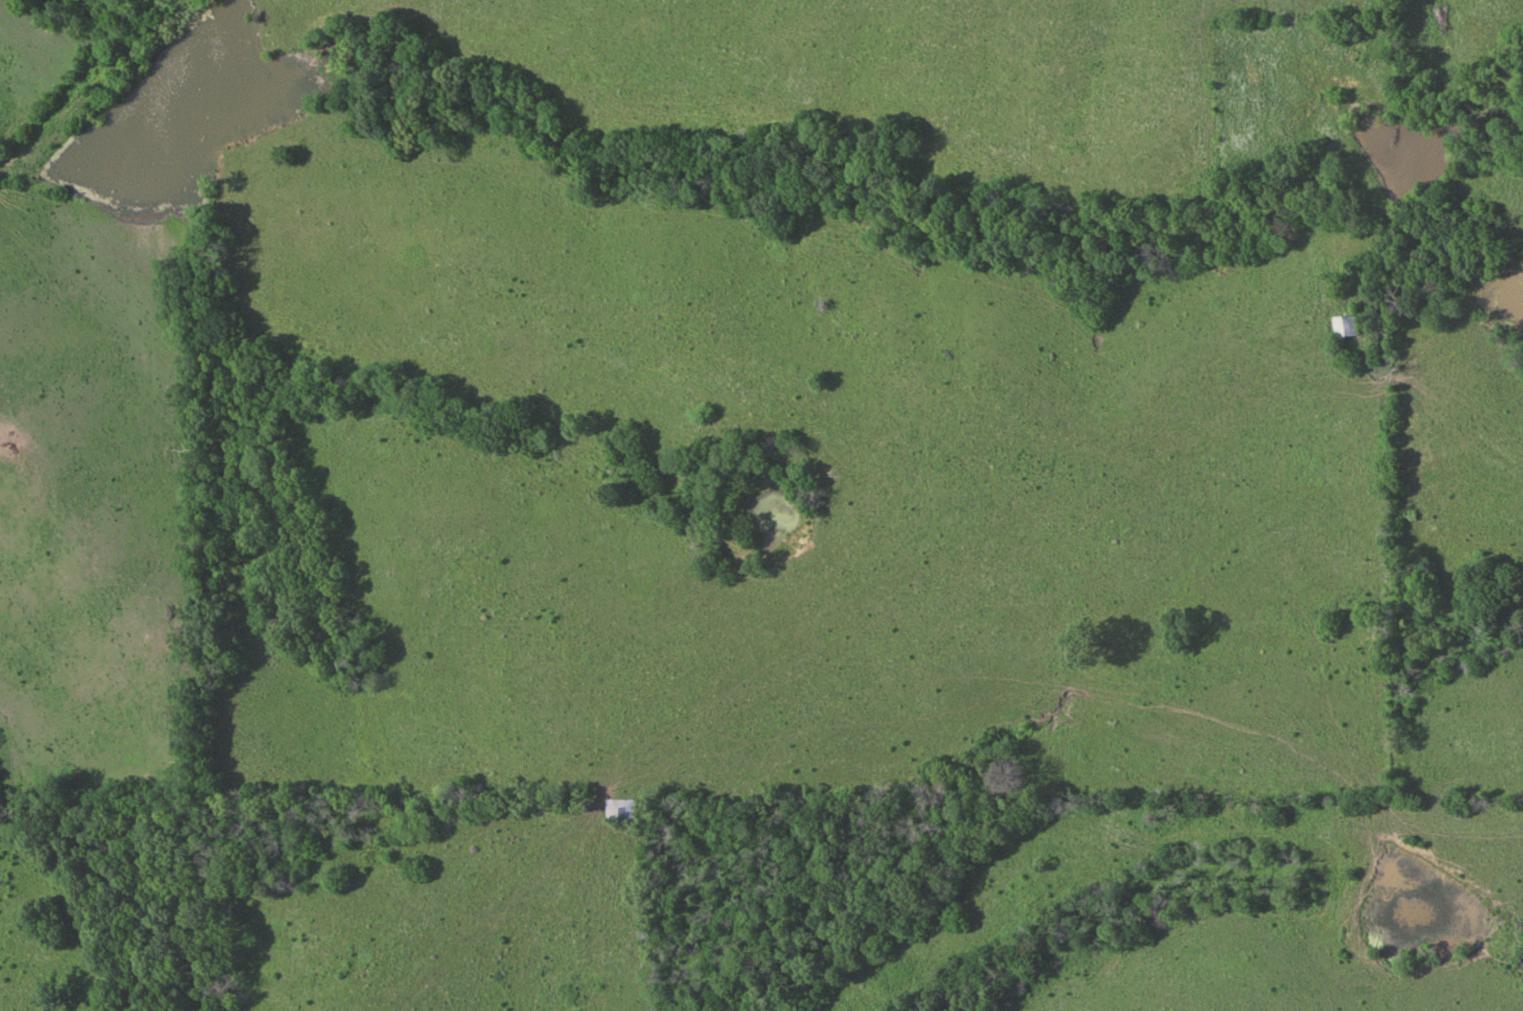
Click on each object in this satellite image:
road: (1342, 128)
building: (1349, 326)
building: (625, 811)

